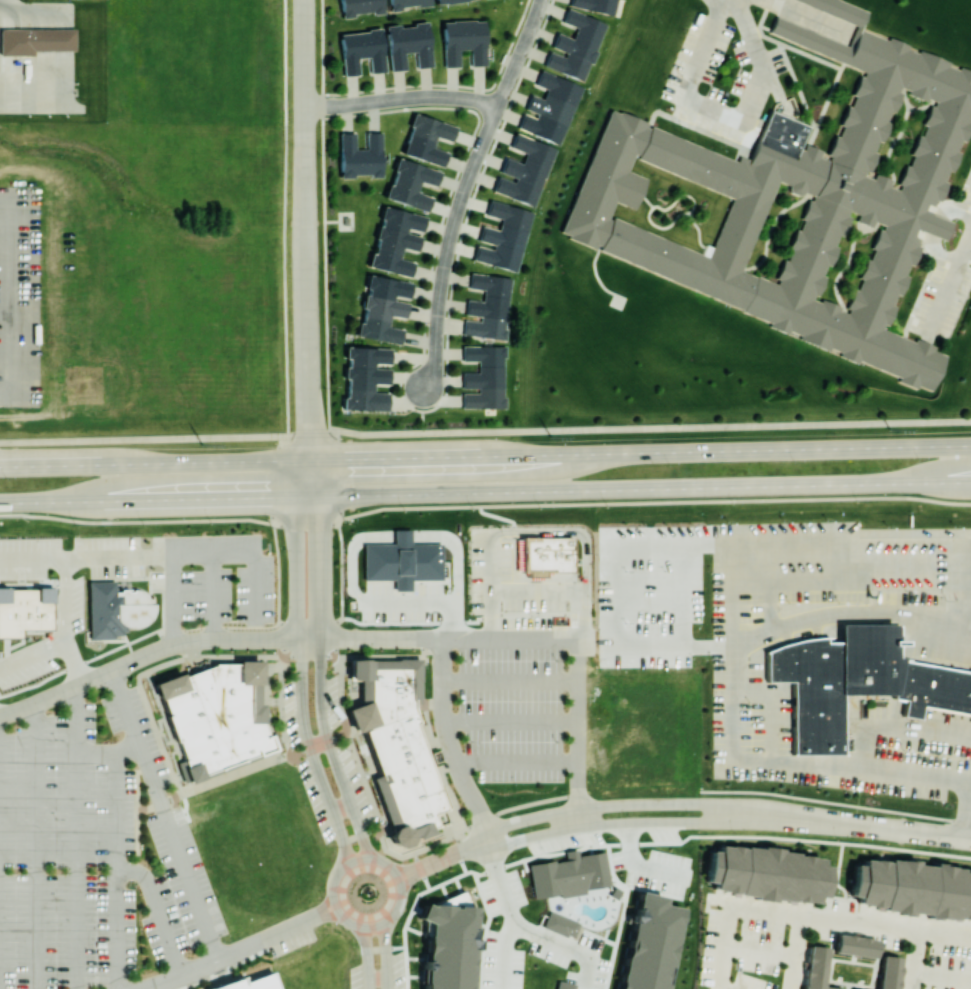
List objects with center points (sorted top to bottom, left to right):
building: (445, 1)
road: (2, 2)
building: (407, 3)
building: (595, 5)
building: (360, 6)
road: (806, 18)
building: (35, 40)
building: (463, 41)
building: (407, 44)
building: (575, 45)
road: (758, 49)
building: (361, 50)
road: (519, 52)
road: (304, 62)
road: (444, 95)
road: (691, 99)
road: (375, 101)
road: (332, 106)
building: (550, 107)
building: (427, 138)
building: (360, 155)
road: (477, 156)
building: (525, 170)
building: (411, 183)
building: (876, 194)
road: (455, 224)
road: (936, 229)
building: (503, 236)
road: (969, 239)
building: (396, 240)
road: (448, 251)
road: (444, 274)
road: (306, 275)
road: (949, 285)
road: (440, 296)
building: (488, 306)
building: (383, 307)
road: (439, 317)
road: (437, 333)
road: (436, 352)
building: (485, 376)
building: (366, 377)
road: (429, 378)
building: (90, 388)
road: (422, 421)
power tower: (889, 428)
road: (482, 430)
power tower: (551, 436)
road: (308, 442)
power tower: (202, 443)
road: (485, 454)
road: (334, 474)
road: (303, 477)
road: (313, 477)
road: (485, 491)
road: (482, 504)
road: (566, 531)
road: (180, 556)
building: (544, 556)
road: (33, 559)
building: (402, 560)
road: (491, 561)
road: (254, 566)
road: (541, 590)
road: (66, 601)
road: (171, 601)
road: (277, 606)
building: (24, 609)
road: (855, 617)
road: (241, 638)
road: (381, 639)
road: (453, 639)
road: (522, 639)
road: (579, 654)
road: (33, 657)
road: (138, 658)
road: (75, 663)
building: (857, 681)
road: (320, 683)
road: (301, 688)
road: (57, 694)
building: (216, 717)
road: (578, 738)
road: (449, 743)
building: (397, 746)
road: (106, 749)
road: (819, 764)
road: (969, 784)
road: (592, 805)
road: (749, 805)
road: (166, 814)
road: (749, 821)
road: (595, 824)
road: (578, 827)
road: (882, 827)
road: (73, 838)
road: (642, 844)
road: (35, 846)
road: (493, 854)
road: (443, 858)
road: (352, 862)
road: (116, 868)
building: (767, 873)
building: (568, 874)
building: (912, 887)
road: (401, 888)
road: (159, 912)
road: (780, 914)
road: (342, 916)
road: (382, 923)
building: (560, 924)
road: (914, 931)
road: (278, 932)
road: (542, 933)
road: (386, 943)
building: (647, 943)
building: (447, 944)
building: (855, 945)
road: (759, 949)
road: (795, 952)
road: (502, 953)
road: (366, 954)
building: (816, 968)
building: (888, 972)
road: (185, 975)
road: (941, 976)
building: (248, 983)
building: (564, 985)
road: (716, 988)

